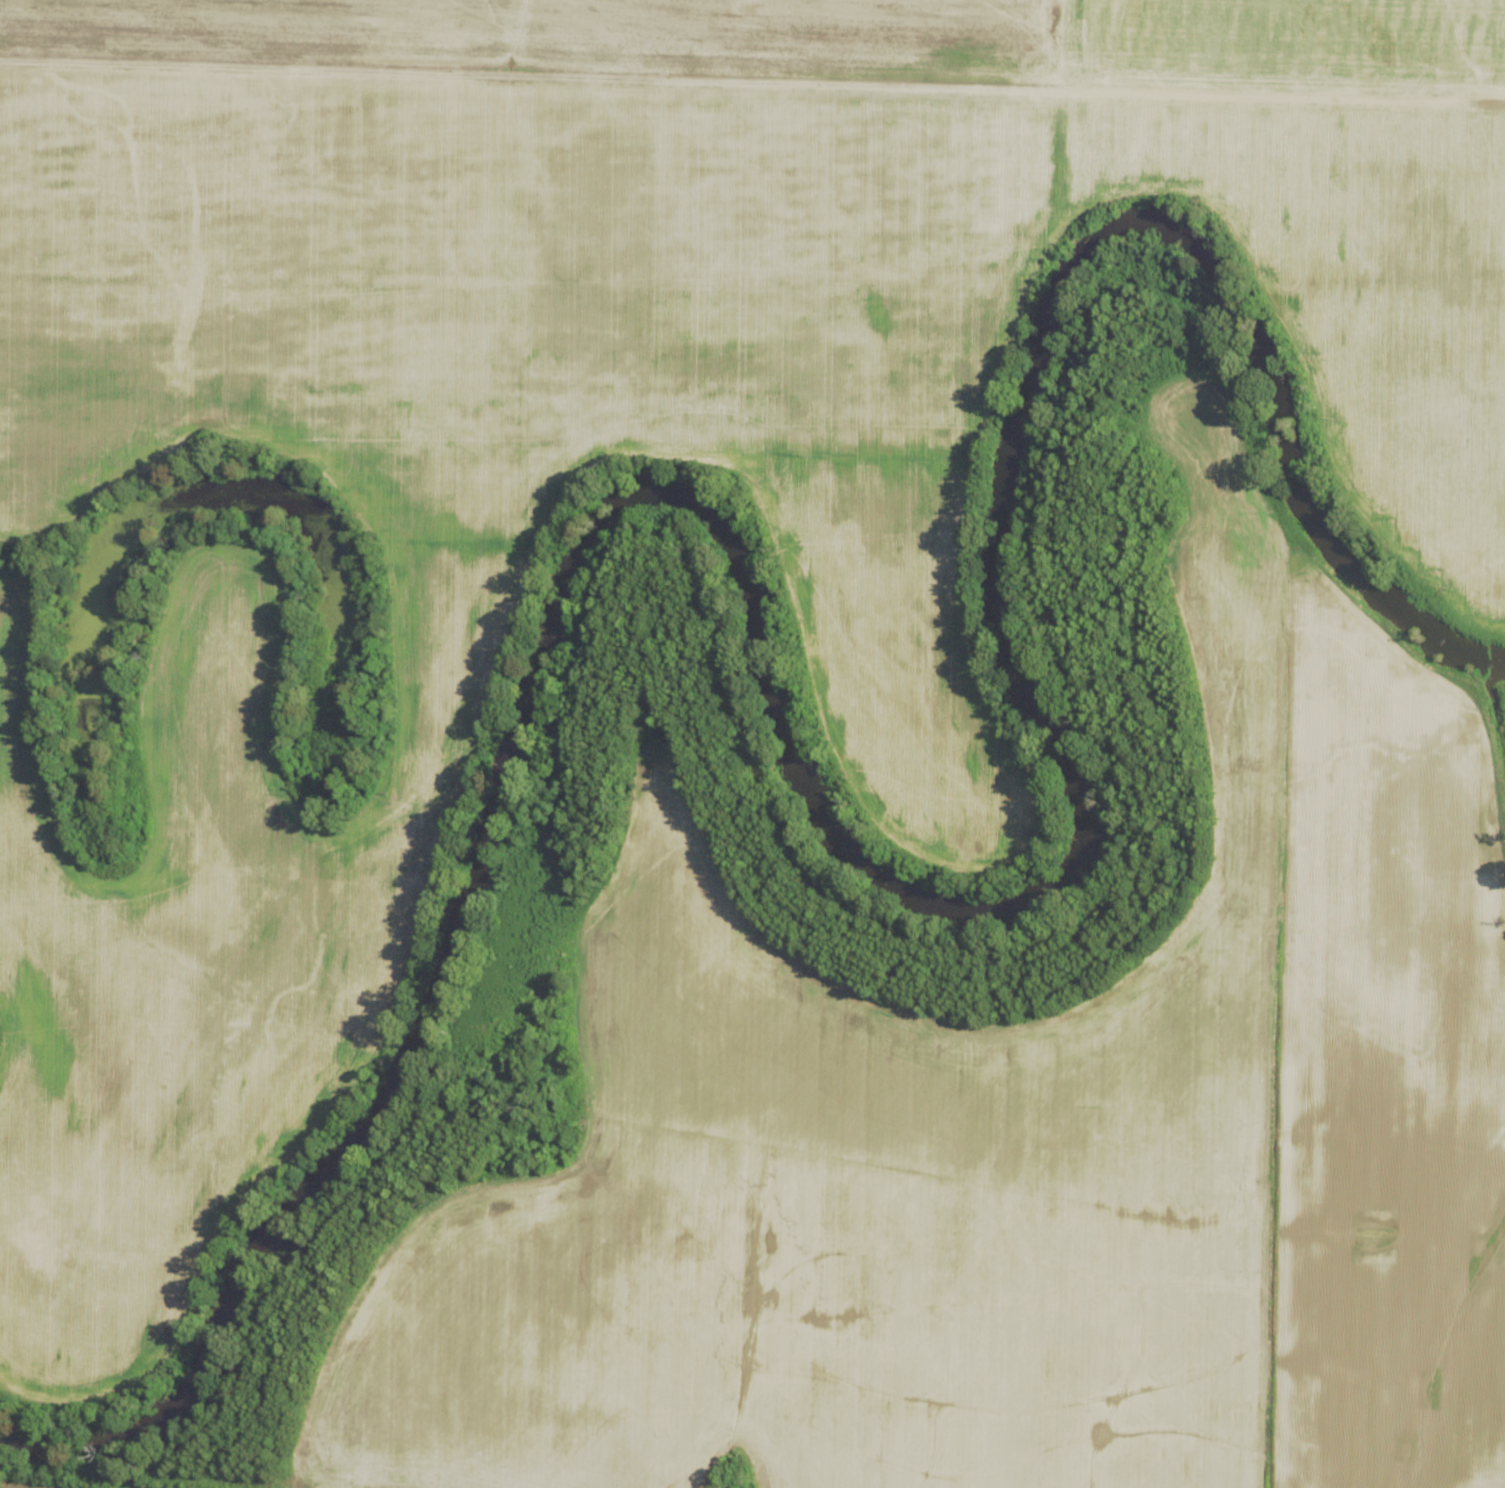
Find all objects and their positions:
road: (752, 77)
road: (838, 470)

